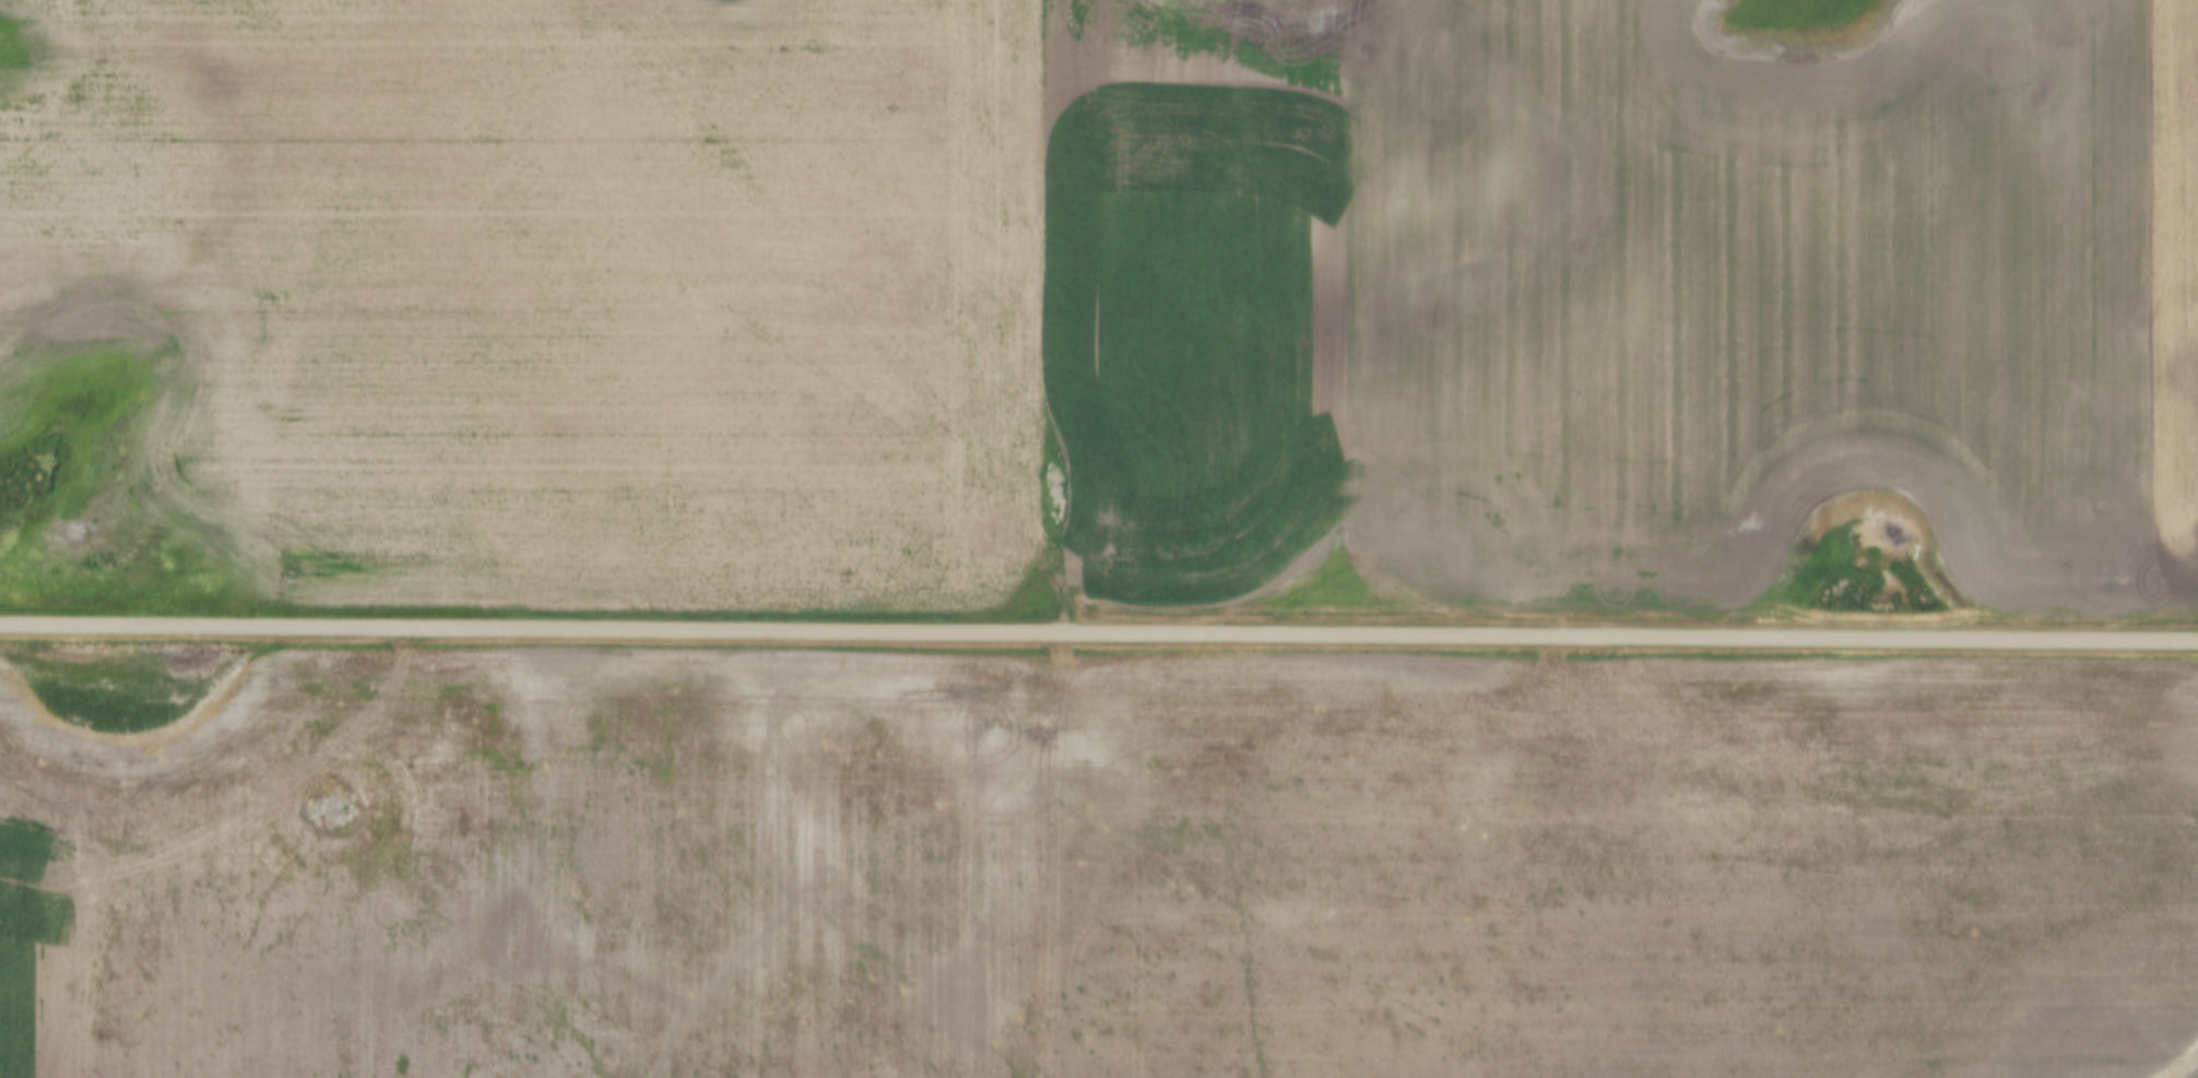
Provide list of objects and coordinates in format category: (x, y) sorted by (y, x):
road: (1099, 630)

